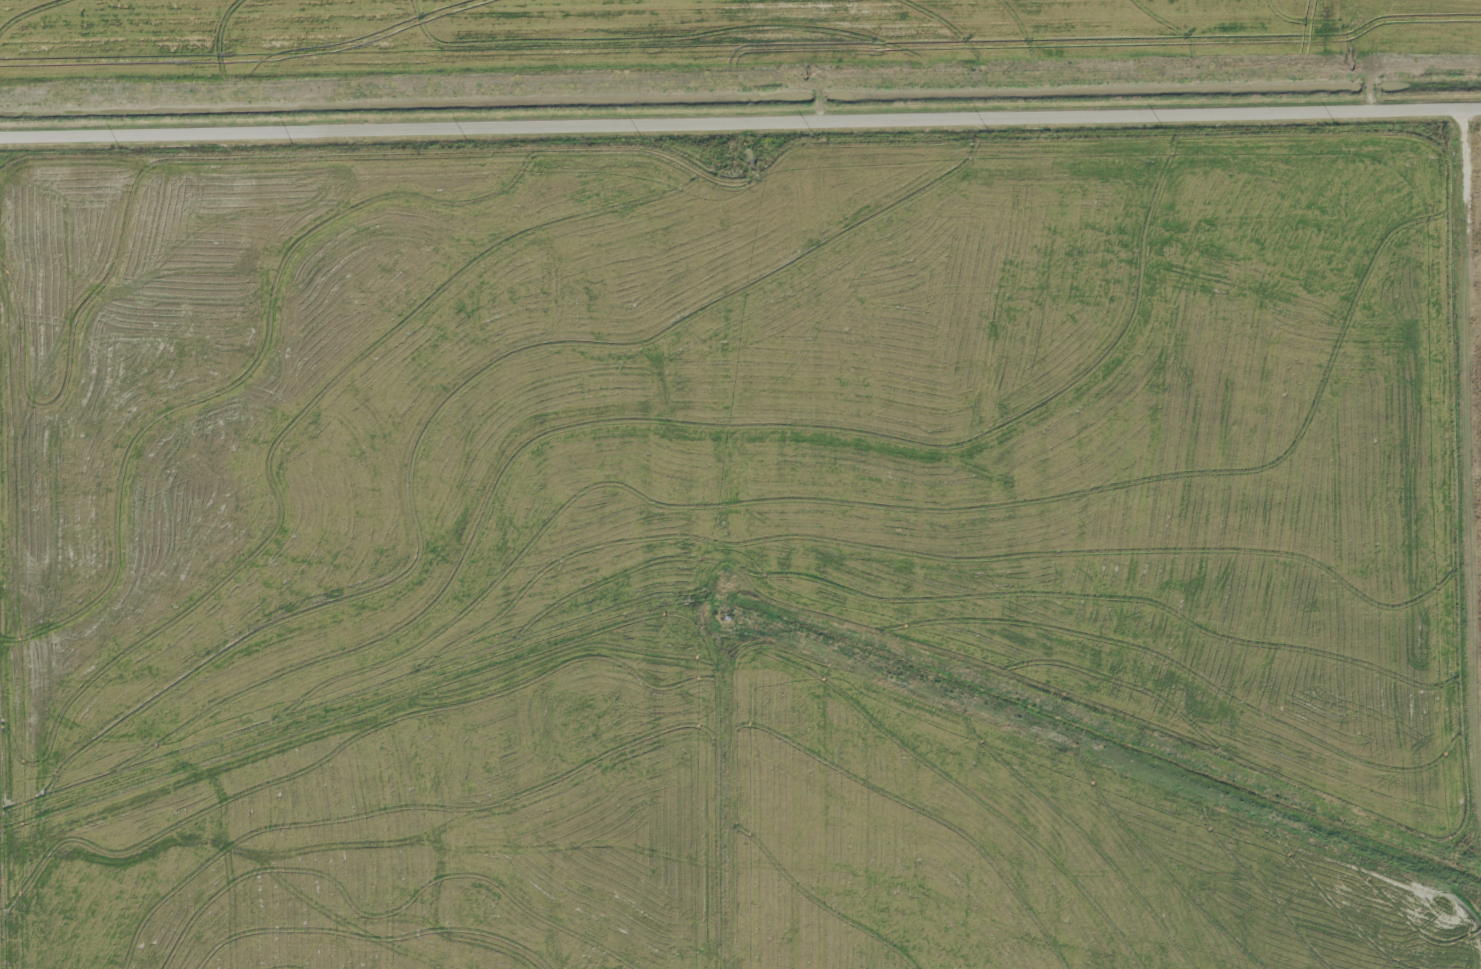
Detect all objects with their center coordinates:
road: (740, 130)

